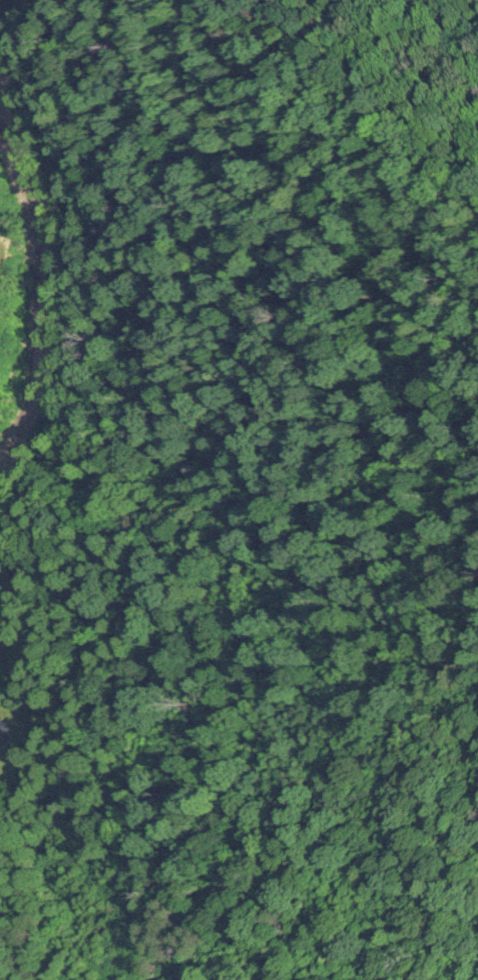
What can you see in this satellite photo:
river: (38, 290)
building: (1, 741)

